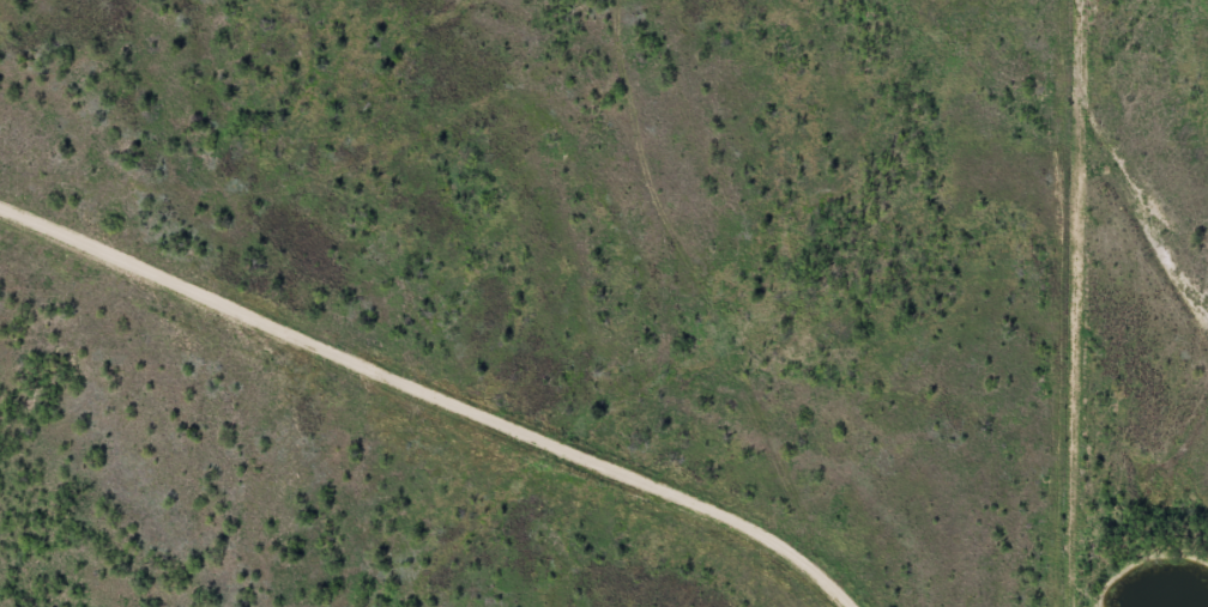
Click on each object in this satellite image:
road: (757, 303)
road: (427, 389)

